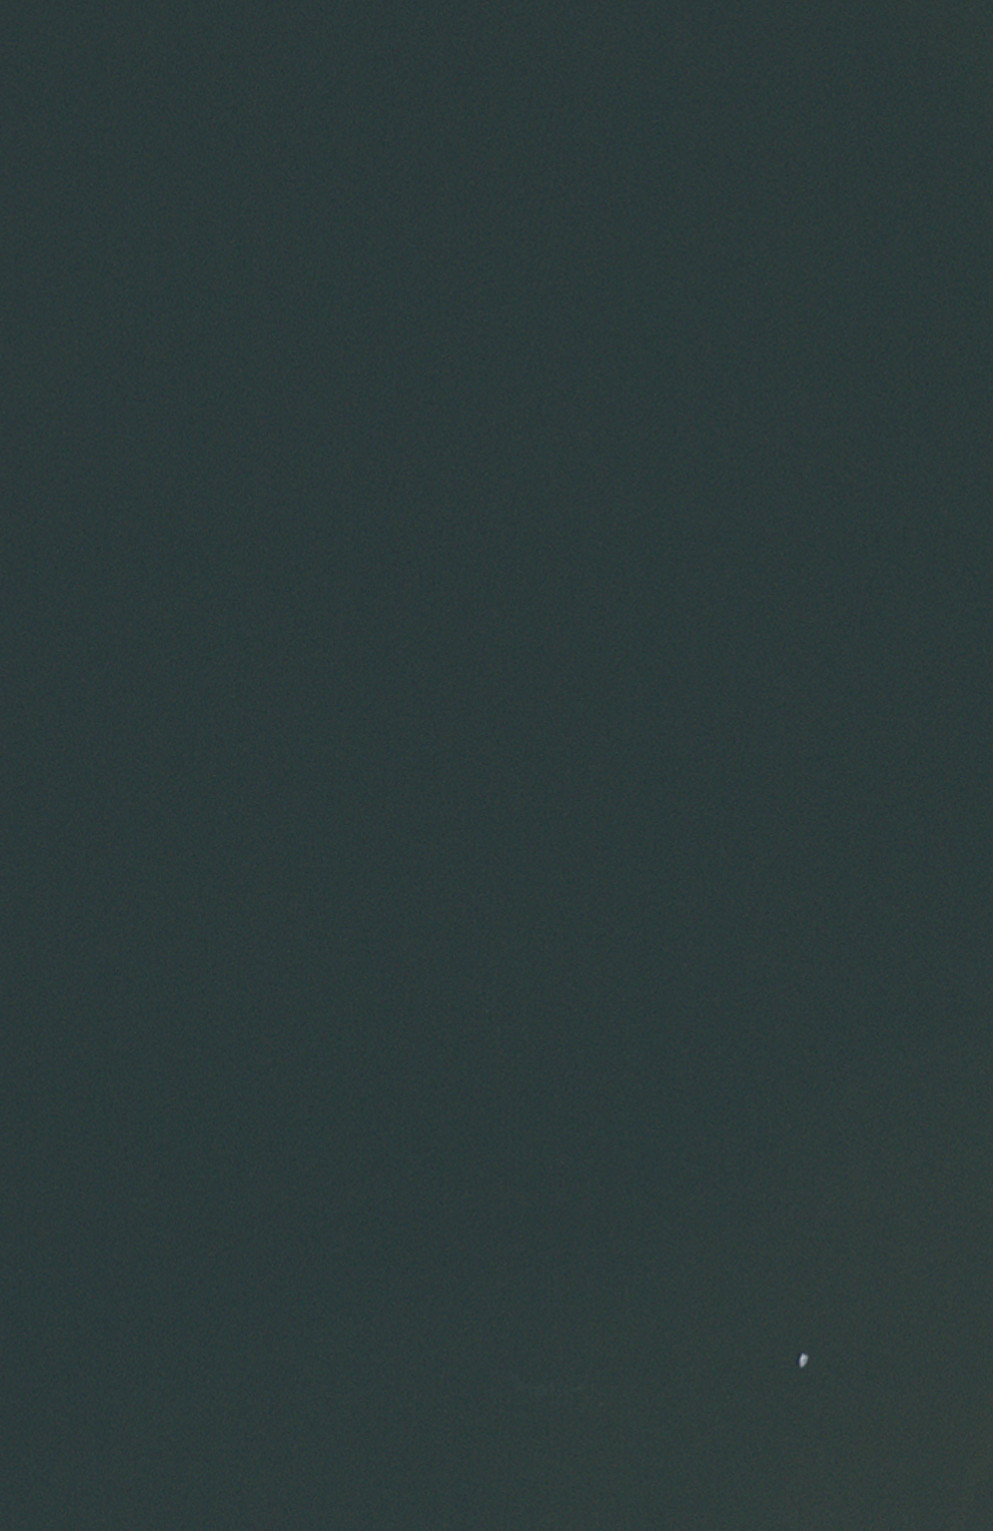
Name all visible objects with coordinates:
river: (678, 247)
river: (669, 994)

